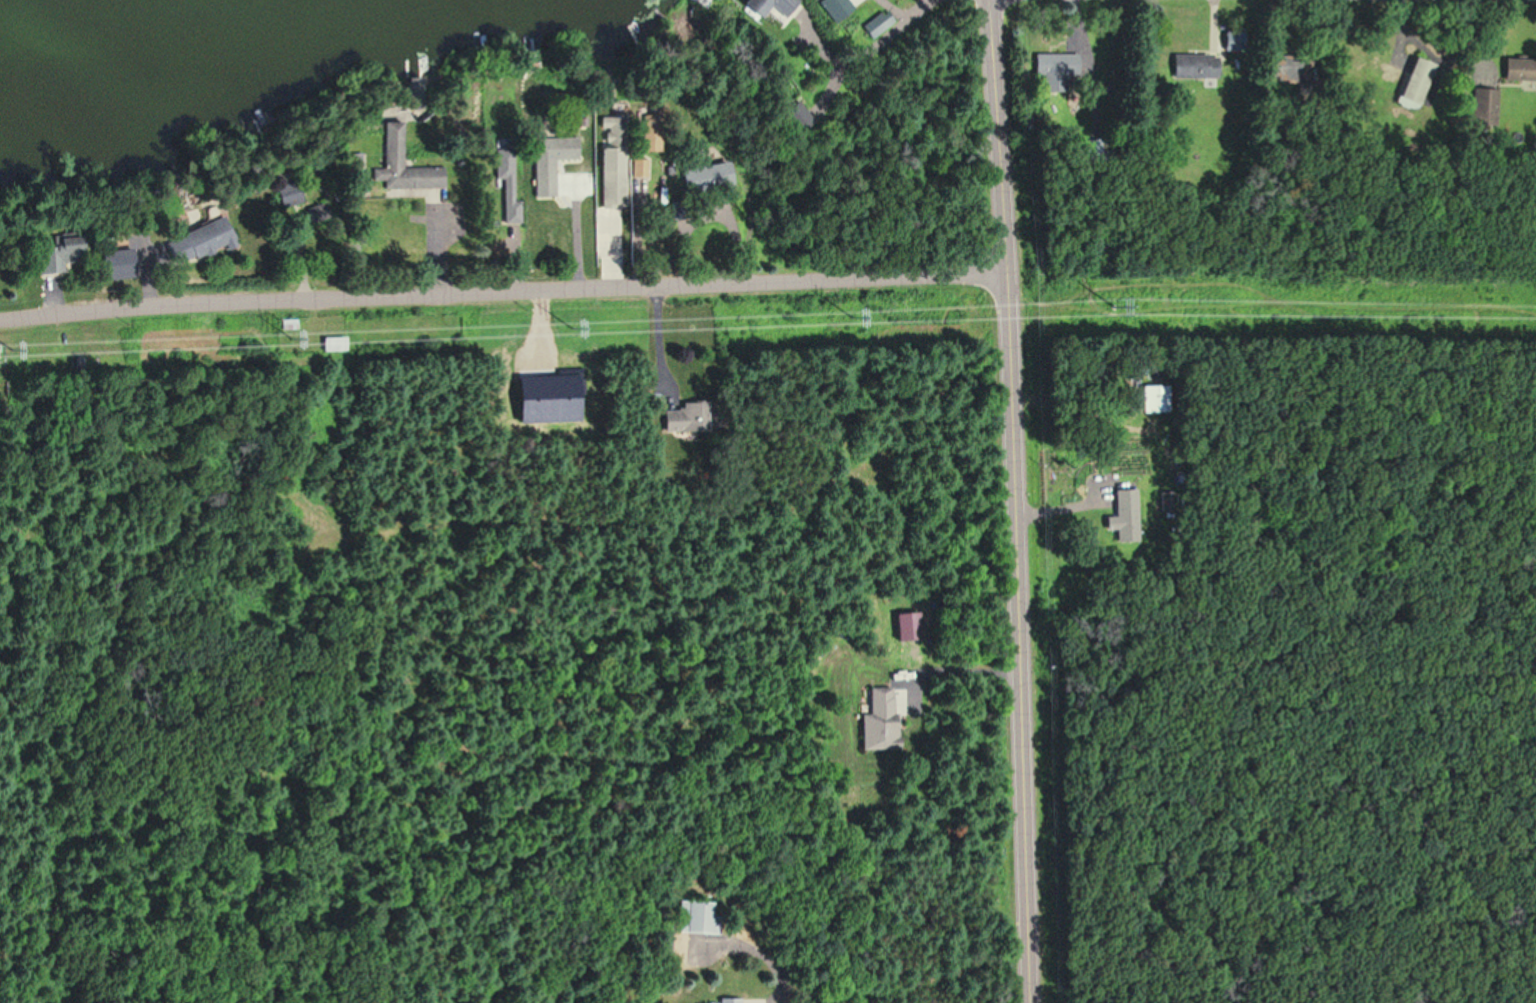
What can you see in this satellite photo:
building: (769, 7)
building: (880, 23)
road: (897, 28)
building: (1056, 64)
building: (1195, 66)
building: (1519, 69)
building: (1416, 83)
building: (1486, 106)
building: (794, 114)
building: (1085, 150)
building: (609, 161)
building: (547, 162)
building: (402, 164)
building: (705, 177)
building: (288, 194)
road: (572, 235)
building: (197, 242)
building: (54, 258)
building: (124, 263)
road: (502, 293)
building: (334, 344)
building: (1155, 398)
building: (683, 416)
road: (1015, 501)
building: (1126, 514)
road: (955, 668)
building: (878, 720)
building: (698, 916)
building: (726, 1000)
building: (700, 1002)

